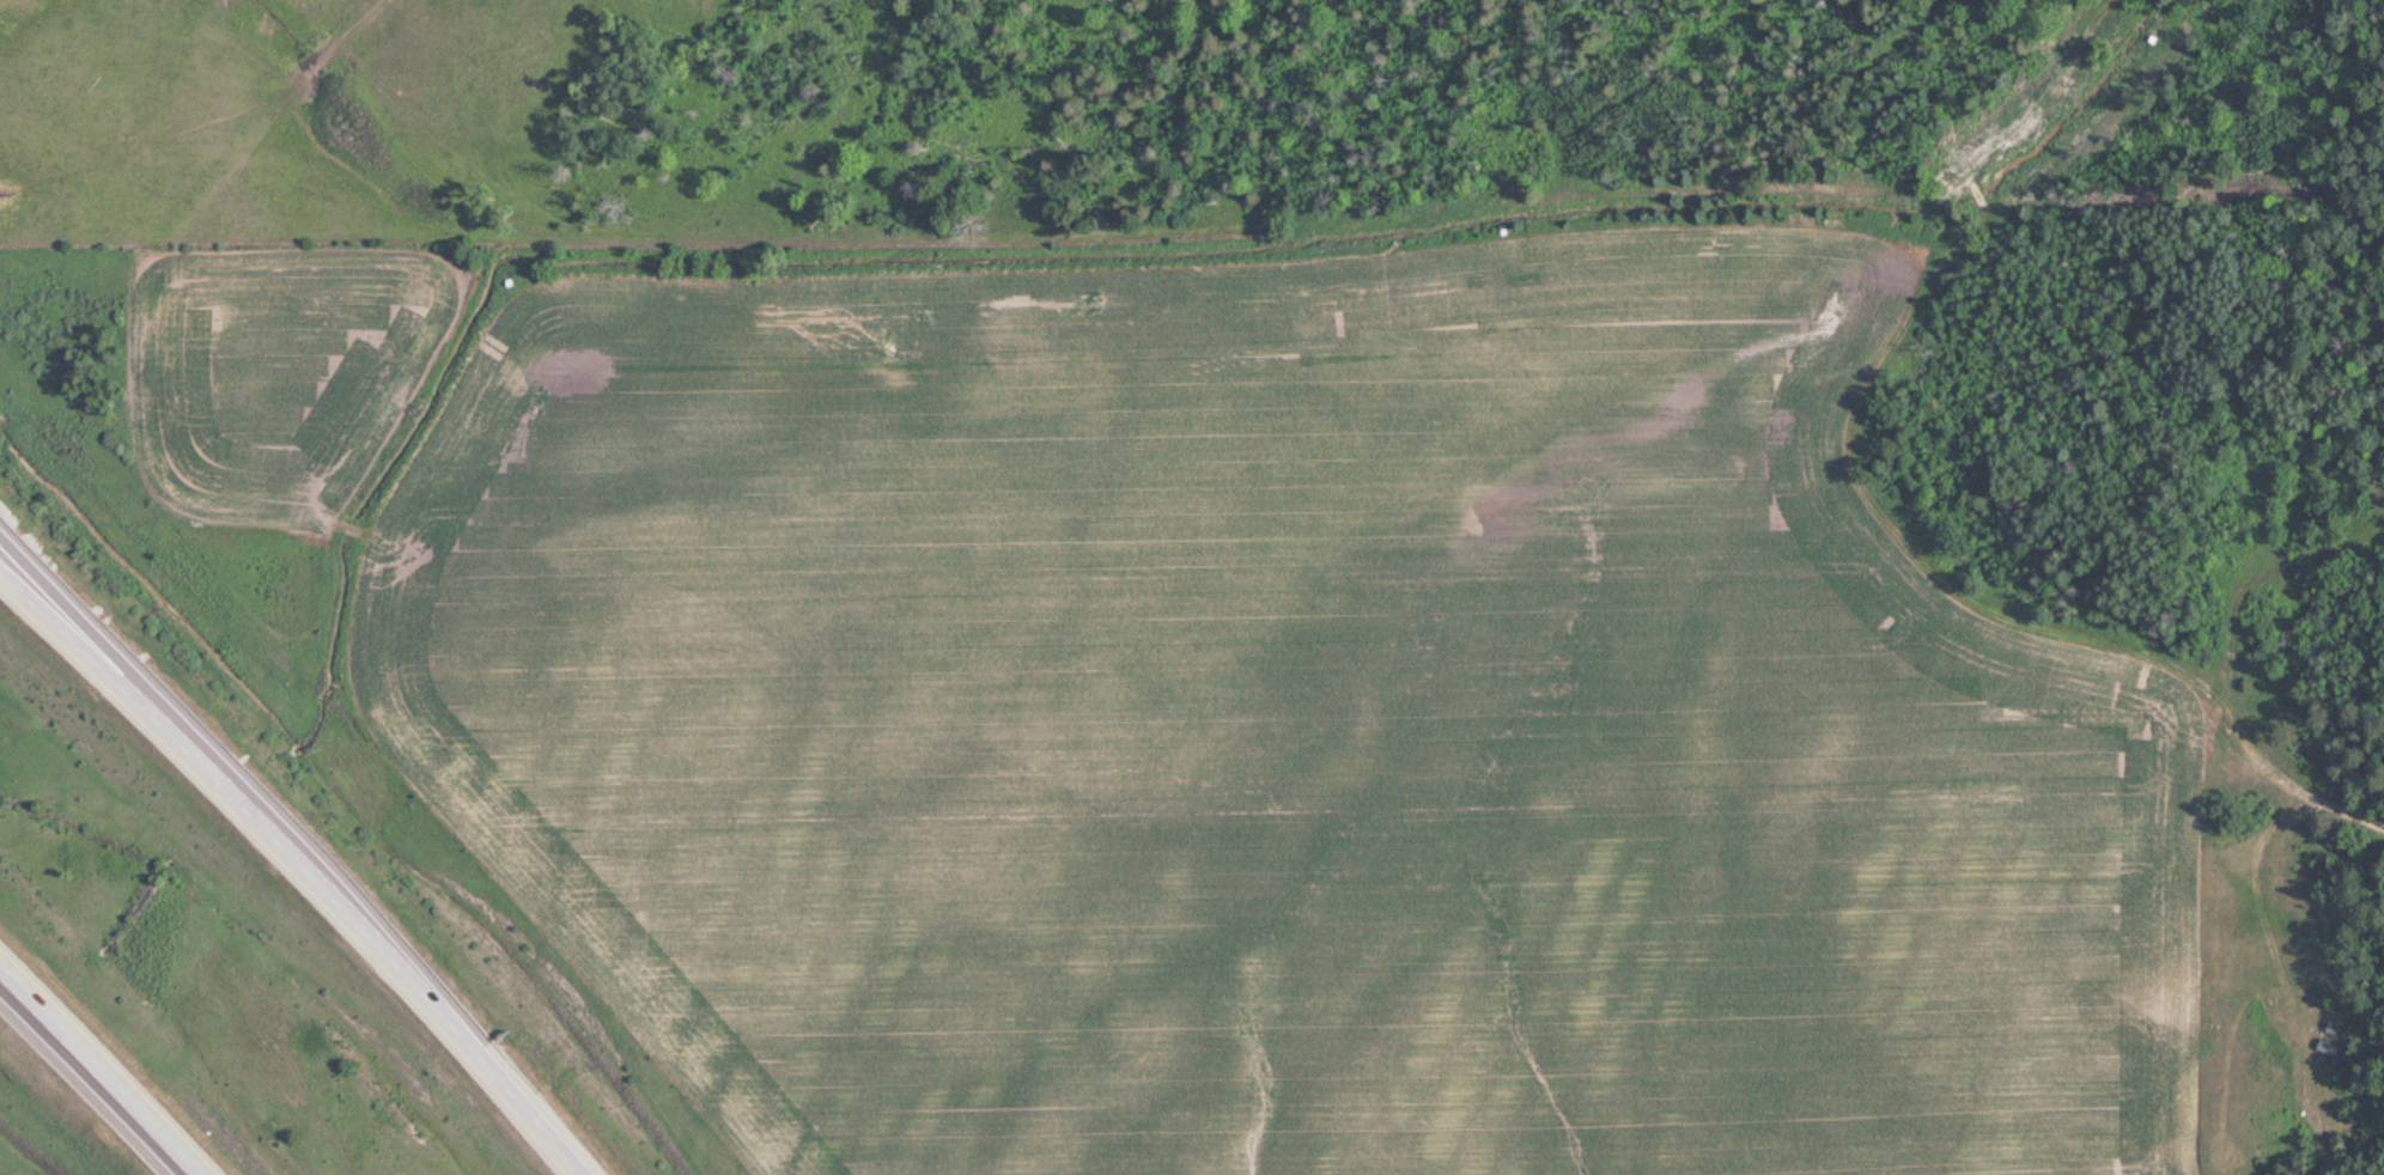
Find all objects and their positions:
road: (62, 591)
road: (308, 853)
road: (102, 1061)
road: (99, 1092)

